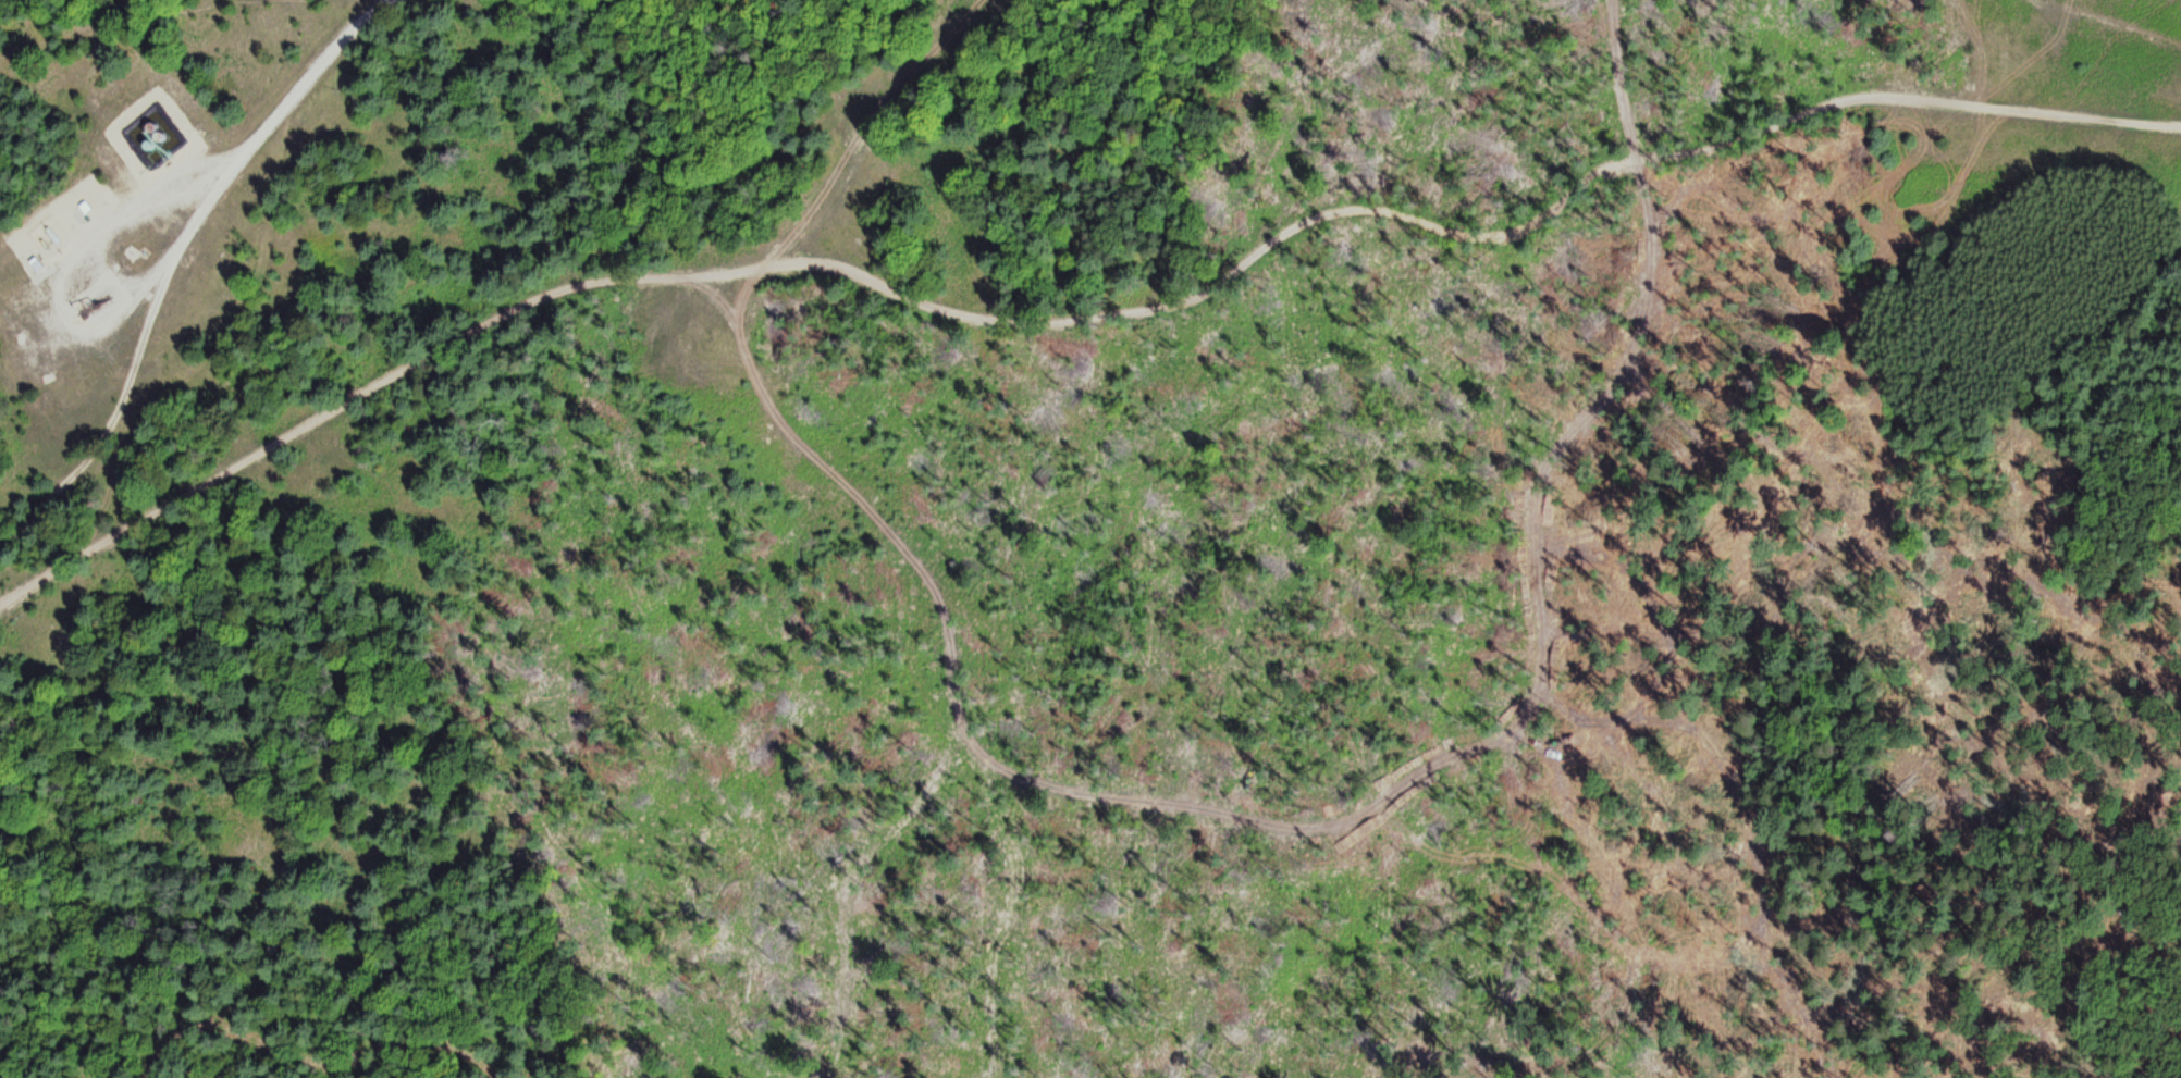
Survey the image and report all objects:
road: (2115, 22)
road: (278, 109)
road: (110, 227)
petroleum well: (86, 301)
road: (59, 303)
road: (1074, 317)
road: (116, 400)

